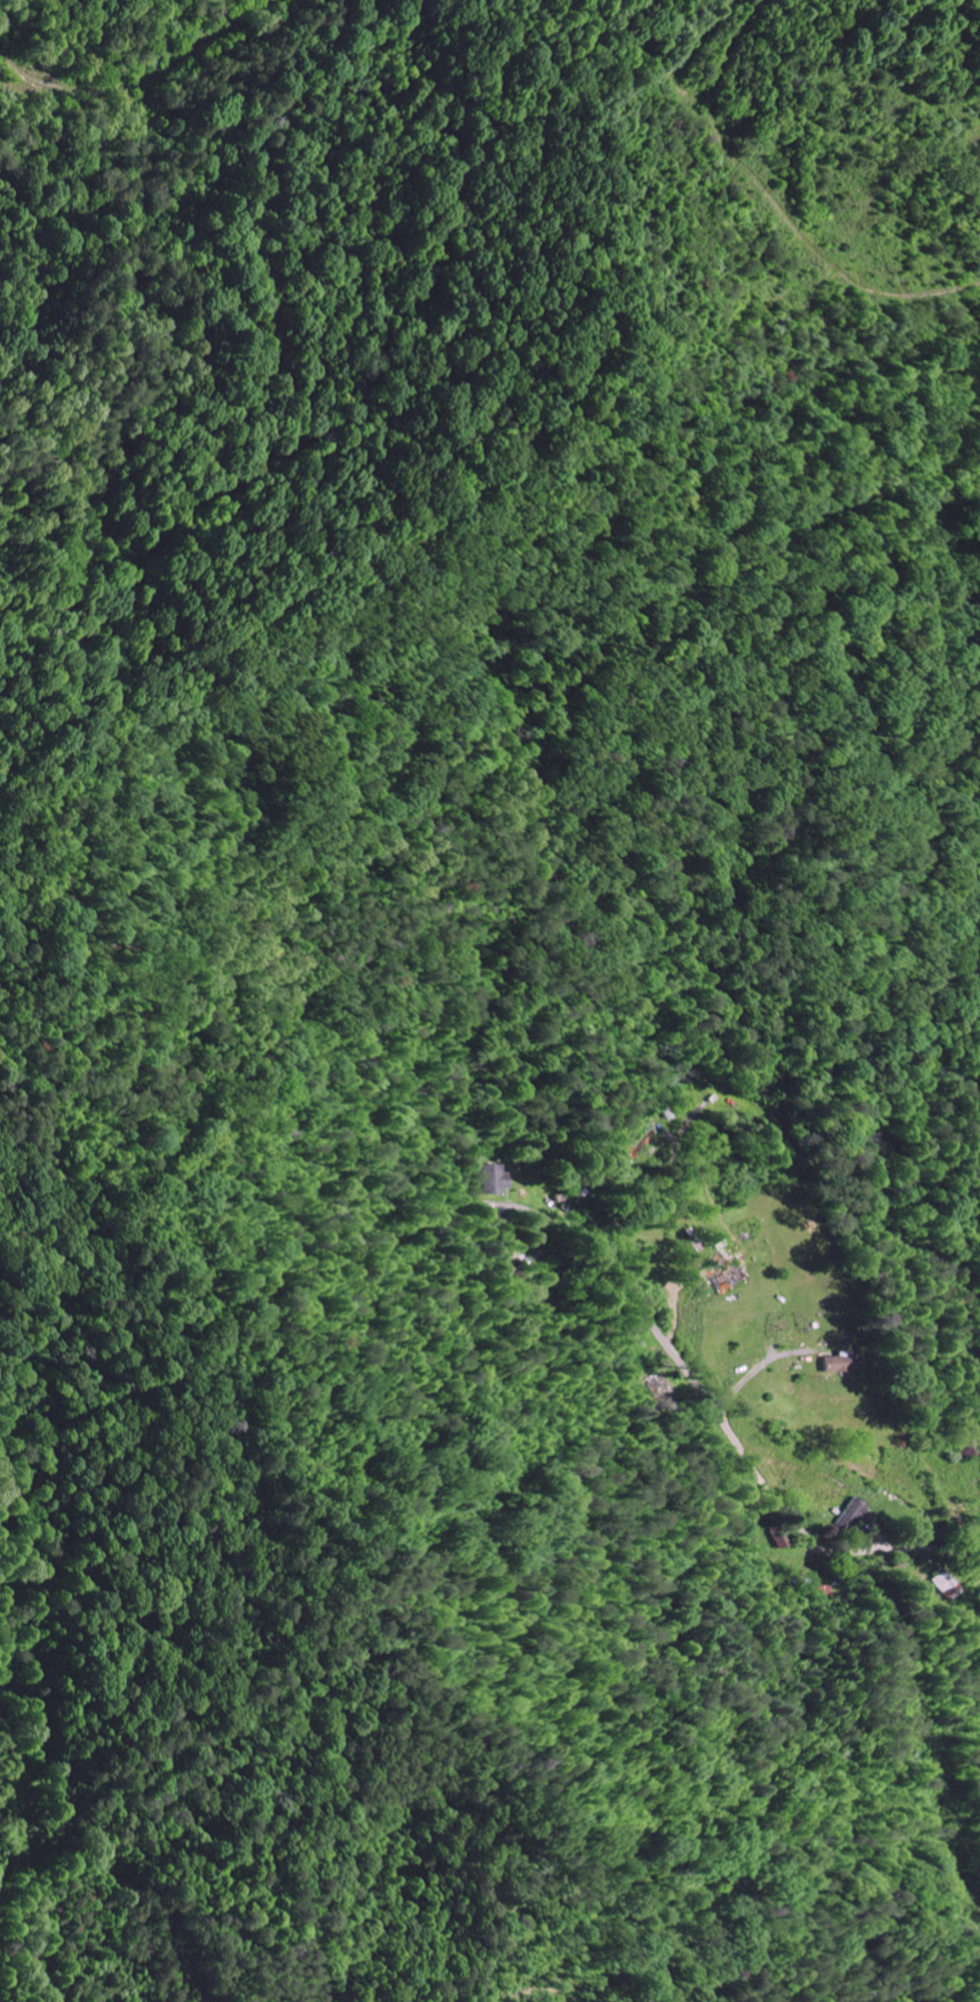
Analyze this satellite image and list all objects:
road: (6, 72)
road: (163, 73)
building: (503, 1178)
building: (839, 1363)
road: (750, 1455)
building: (854, 1515)
road: (979, 1555)
road: (979, 1557)

